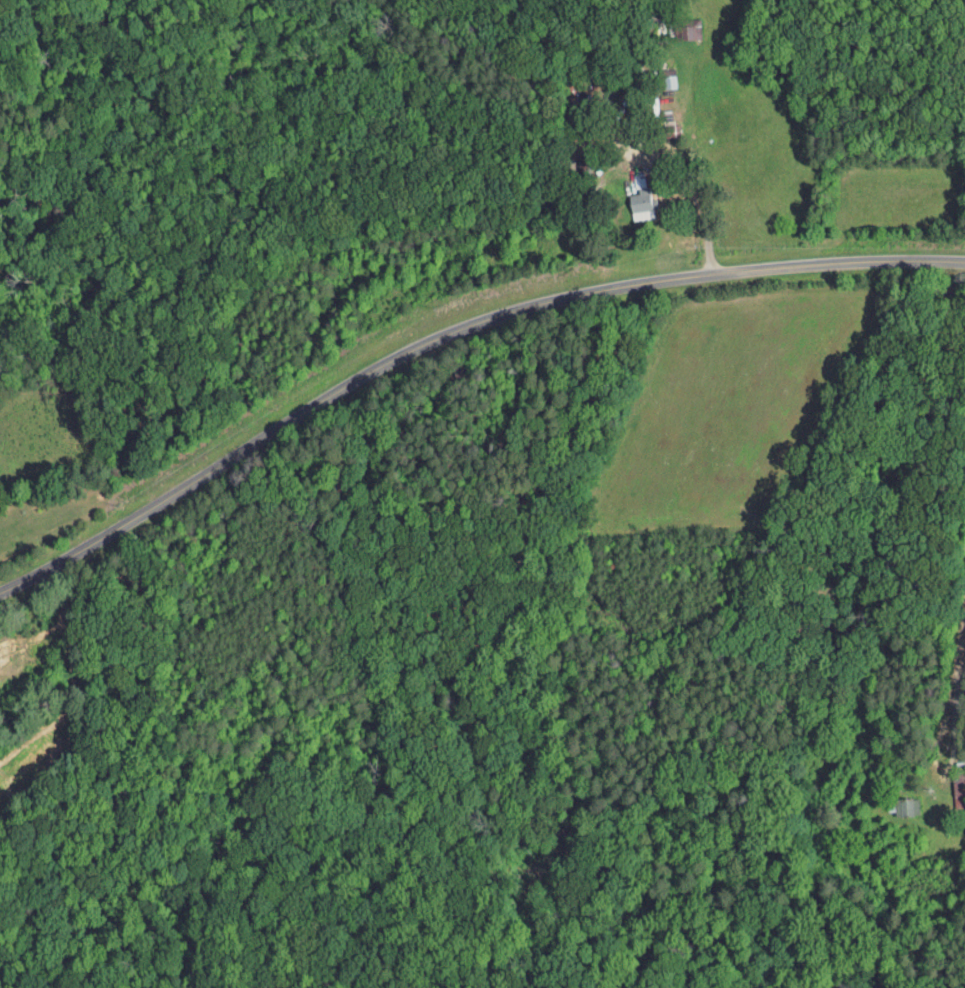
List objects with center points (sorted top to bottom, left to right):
road: (695, 196)
road: (453, 336)
road: (957, 699)
building: (948, 785)
building: (894, 801)

